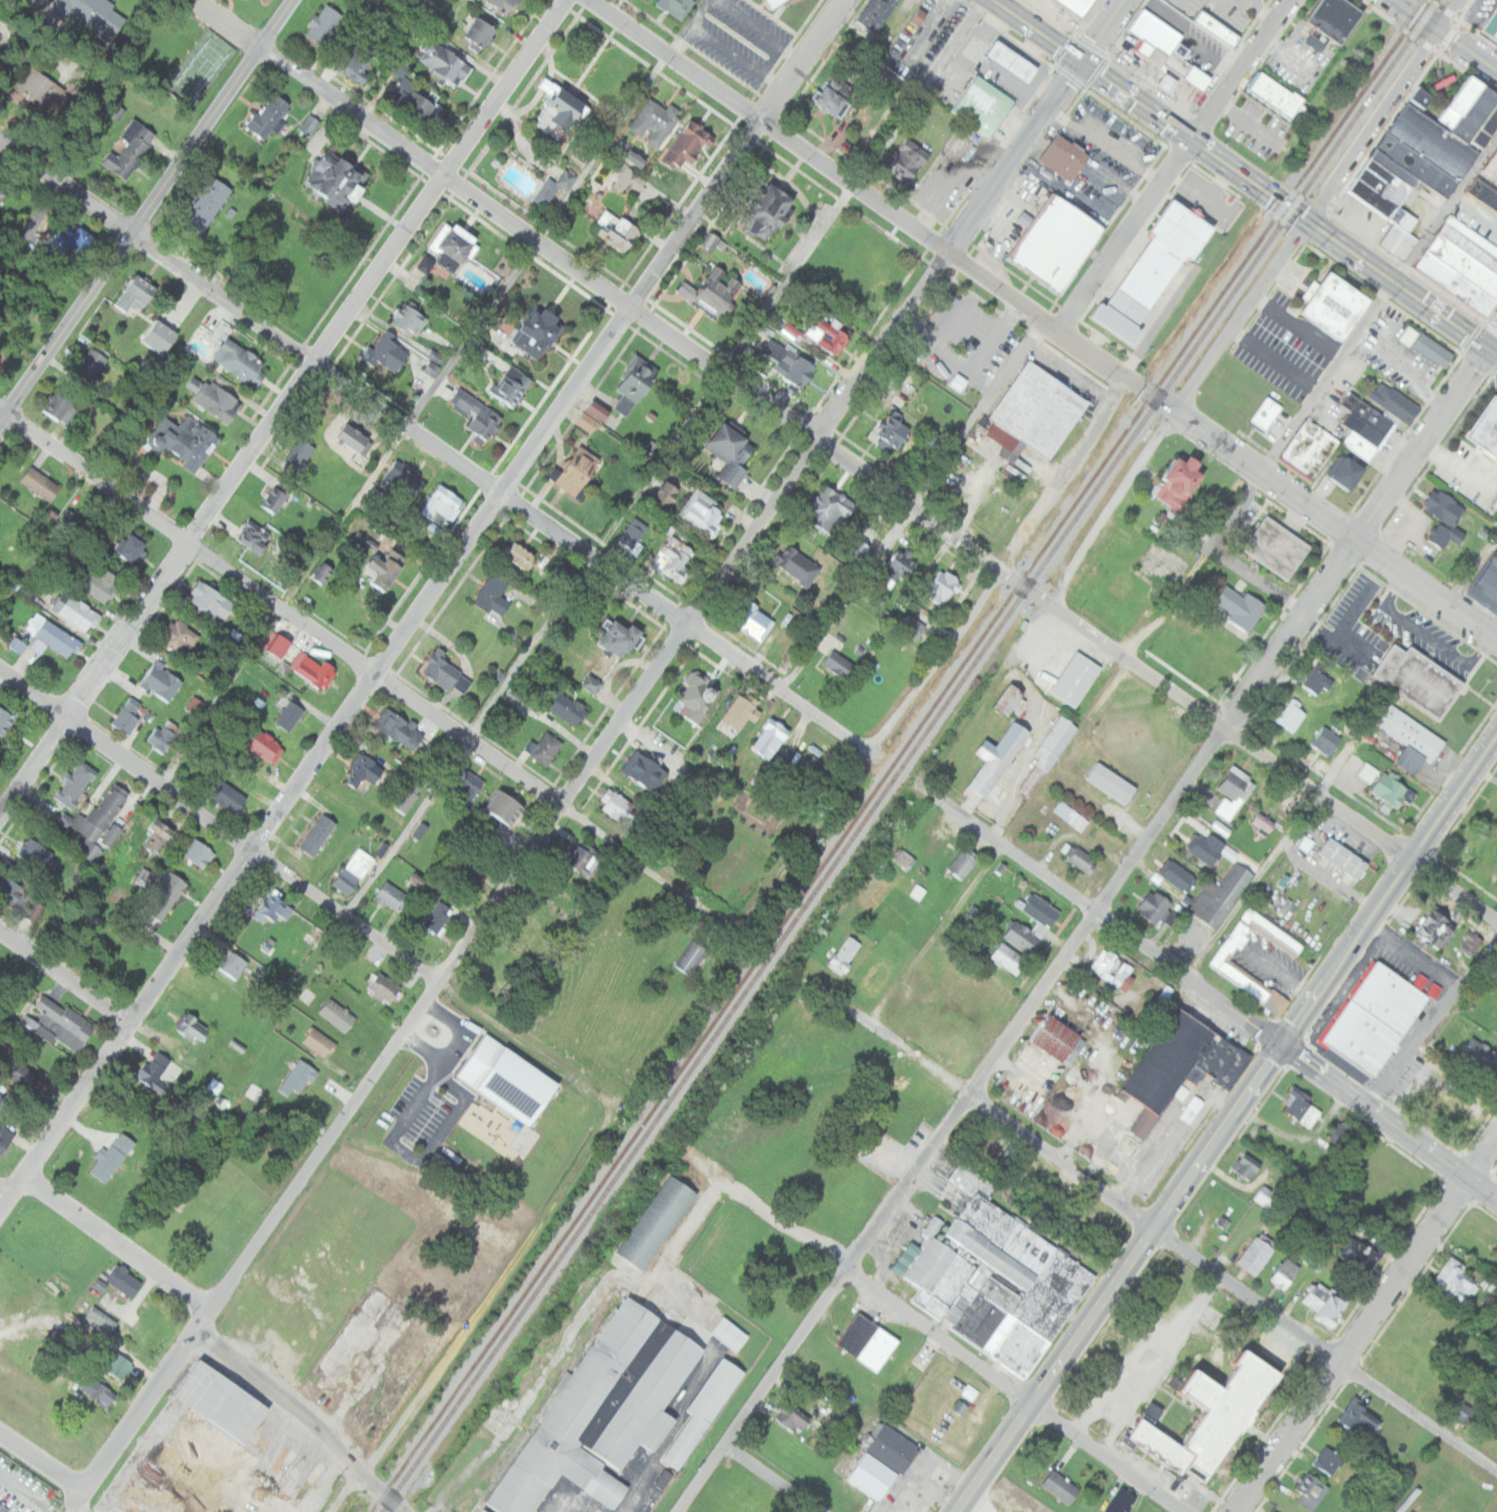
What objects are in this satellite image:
building: (774, 3)
building: (508, 4)
building: (674, 6)
building: (1074, 6)
road: (1409, 9)
building: (875, 14)
building: (95, 15)
road: (1448, 15)
building: (918, 16)
building: (1331, 18)
building: (324, 23)
building: (1490, 23)
road: (688, 27)
building: (484, 29)
building: (1215, 29)
road: (762, 30)
building: (1494, 41)
road: (1460, 45)
building: (1166, 49)
road: (737, 57)
building: (446, 60)
building: (1011, 62)
gas station: (1011, 62)
traffic signals: (1078, 63)
road: (1439, 66)
building: (361, 67)
park: (1442, 79)
building: (1168, 84)
gas station: (1168, 84)
building: (43, 89)
building: (1274, 94)
building: (1413, 96)
building: (1422, 97)
building: (832, 98)
building: (420, 99)
building: (1458, 103)
building: (981, 105)
road: (1140, 105)
building: (562, 109)
building: (1473, 113)
building: (272, 116)
building: (657, 121)
building: (311, 124)
road: (1373, 126)
building: (1484, 127)
building: (1432, 141)
building: (691, 144)
building: (132, 149)
road: (602, 150)
building: (638, 157)
building: (1063, 158)
building: (907, 161)
building: (1417, 164)
road: (1173, 165)
building: (1491, 165)
building: (625, 177)
building: (339, 178)
building: (568, 178)
building: (1388, 178)
building: (548, 192)
building: (1483, 194)
building: (2, 196)
road: (873, 201)
building: (208, 203)
building: (1382, 205)
road: (146, 209)
building: (772, 210)
road: (1473, 217)
parking lot: (1476, 217)
building: (620, 231)
building: (76, 241)
building: (1398, 241)
building: (1053, 242)
building: (1470, 243)
building: (455, 245)
building: (1166, 252)
building: (427, 264)
building: (1463, 265)
road: (1392, 283)
building: (1454, 284)
building: (716, 290)
building: (139, 292)
road: (608, 295)
building: (1332, 301)
building: (412, 317)
building: (793, 329)
building: (535, 330)
building: (831, 334)
building: (162, 336)
building: (1431, 350)
building: (389, 352)
traffic signals: (1490, 352)
building: (242, 361)
building: (93, 363)
building: (795, 363)
building: (432, 370)
building: (958, 383)
building: (636, 384)
building: (514, 386)
building: (216, 398)
building: (1394, 403)
building: (63, 405)
road: (282, 406)
building: (601, 410)
road: (1174, 410)
building: (1035, 414)
building: (1266, 414)
building: (1368, 414)
building: (482, 417)
building: (589, 421)
building: (1486, 427)
building: (1364, 430)
building: (892, 431)
building: (358, 432)
building: (186, 440)
building: (1361, 446)
road: (433, 447)
building: (1309, 448)
building: (734, 452)
building: (581, 471)
building: (1346, 473)
building: (406, 475)
building: (42, 483)
building: (1179, 483)
building: (668, 491)
building: (675, 496)
building: (277, 498)
building: (1496, 503)
building: (445, 504)
building: (1444, 508)
building: (828, 510)
building: (705, 512)
road: (1327, 521)
building: (634, 534)
building: (1443, 536)
building: (256, 537)
building: (135, 546)
building: (1276, 548)
building: (859, 552)
building: (523, 554)
building: (675, 558)
building: (798, 566)
building: (386, 567)
building: (894, 570)
road: (1473, 570)
building: (325, 572)
road: (1186, 580)
building: (105, 584)
building: (1484, 584)
building: (941, 587)
building: (496, 594)
road: (846, 597)
building: (215, 600)
road: (422, 605)
building: (1239, 607)
road: (1355, 610)
building: (78, 611)
building: (751, 621)
road: (961, 621)
building: (911, 627)
building: (239, 634)
road: (1331, 635)
road: (1427, 635)
building: (54, 637)
building: (183, 637)
building: (625, 638)
building: (279, 643)
building: (19, 644)
building: (838, 664)
building: (316, 669)
road: (367, 671)
building: (449, 673)
building: (1074, 679)
building: (1419, 680)
building: (164, 681)
building: (1316, 681)
building: (594, 683)
building: (699, 696)
building: (1007, 700)
building: (522, 701)
building: (571, 709)
building: (745, 712)
building: (130, 715)
building: (292, 715)
building: (1290, 715)
building: (7, 719)
building: (401, 729)
building: (163, 737)
building: (773, 737)
road: (604, 739)
building: (1411, 739)
building: (1326, 741)
building: (269, 746)
building: (546, 748)
building: (1049, 750)
building: (426, 752)
road: (1262, 752)
railway: (898, 755)
railway: (909, 756)
building: (997, 763)
building: (366, 769)
building: (647, 771)
building: (1368, 772)
building: (1110, 782)
building: (77, 784)
building: (473, 785)
building: (1393, 791)
building: (1232, 793)
building: (229, 794)
building: (508, 807)
building: (623, 807)
building: (1069, 815)
building: (98, 823)
building: (1262, 824)
building: (422, 830)
building: (160, 833)
building: (321, 834)
building: (113, 835)
building: (509, 836)
building: (537, 842)
building: (384, 849)
building: (1210, 849)
building: (201, 852)
building: (40, 853)
building: (1076, 856)
building: (904, 858)
building: (1343, 858)
building: (584, 860)
building: (962, 862)
building: (356, 871)
building: (472, 873)
building: (1175, 874)
building: (144, 877)
building: (421, 882)
building: (15, 891)
road: (306, 891)
building: (1220, 895)
building: (168, 896)
building: (395, 897)
building: (275, 907)
building: (1153, 907)
building: (37, 910)
building: (1039, 910)
building: (970, 911)
building: (439, 916)
road: (1087, 927)
building: (1435, 930)
building: (1021, 937)
building: (1470, 943)
building: (844, 954)
road: (1413, 955)
building: (688, 956)
building: (1007, 958)
building: (235, 964)
building: (1219, 964)
building: (1110, 968)
road: (64, 977)
building: (873, 979)
building: (1424, 986)
building: (387, 988)
road: (1208, 993)
building: (1496, 994)
building: (1160, 996)
building: (340, 1014)
building: (1371, 1018)
road: (1433, 1021)
building: (62, 1023)
building: (195, 1028)
building: (1055, 1038)
building: (321, 1042)
traffic signals: (1283, 1044)
building: (1479, 1053)
building: (1180, 1065)
building: (158, 1071)
building: (27, 1075)
building: (302, 1077)
building: (511, 1080)
building: (216, 1085)
building: (2, 1098)
building: (1296, 1108)
road: (613, 1111)
building: (1183, 1115)
road: (1226, 1125)
building: (6, 1138)
building: (113, 1157)
building: (1242, 1166)
road: (3, 1198)
building: (651, 1222)
road: (775, 1223)
road: (1160, 1234)
road: (117, 1243)
building: (1253, 1254)
building: (1353, 1256)
building: (900, 1258)
building: (1280, 1274)
building: (127, 1281)
building: (1450, 1282)
building: (992, 1283)
building: (1319, 1305)
building: (104, 1319)
road: (1364, 1324)
building: (725, 1334)
building: (863, 1342)
building: (123, 1366)
road: (1016, 1386)
building: (100, 1390)
building: (968, 1391)
building: (957, 1407)
road: (295, 1411)
building: (602, 1411)
building: (1147, 1411)
building: (697, 1412)
building: (790, 1418)
building: (1212, 1419)
building: (1354, 1422)
building: (1496, 1452)
road: (41, 1461)
building: (875, 1461)
building: (1322, 1463)
building: (201, 1475)
road: (768, 1480)
road: (22, 1484)
building: (1055, 1486)
building: (1307, 1495)
building: (1115, 1501)
road: (396, 1506)
building: (4, 1507)
building: (486, 1509)
building: (1377, 1509)
building: (1383, 1510)

